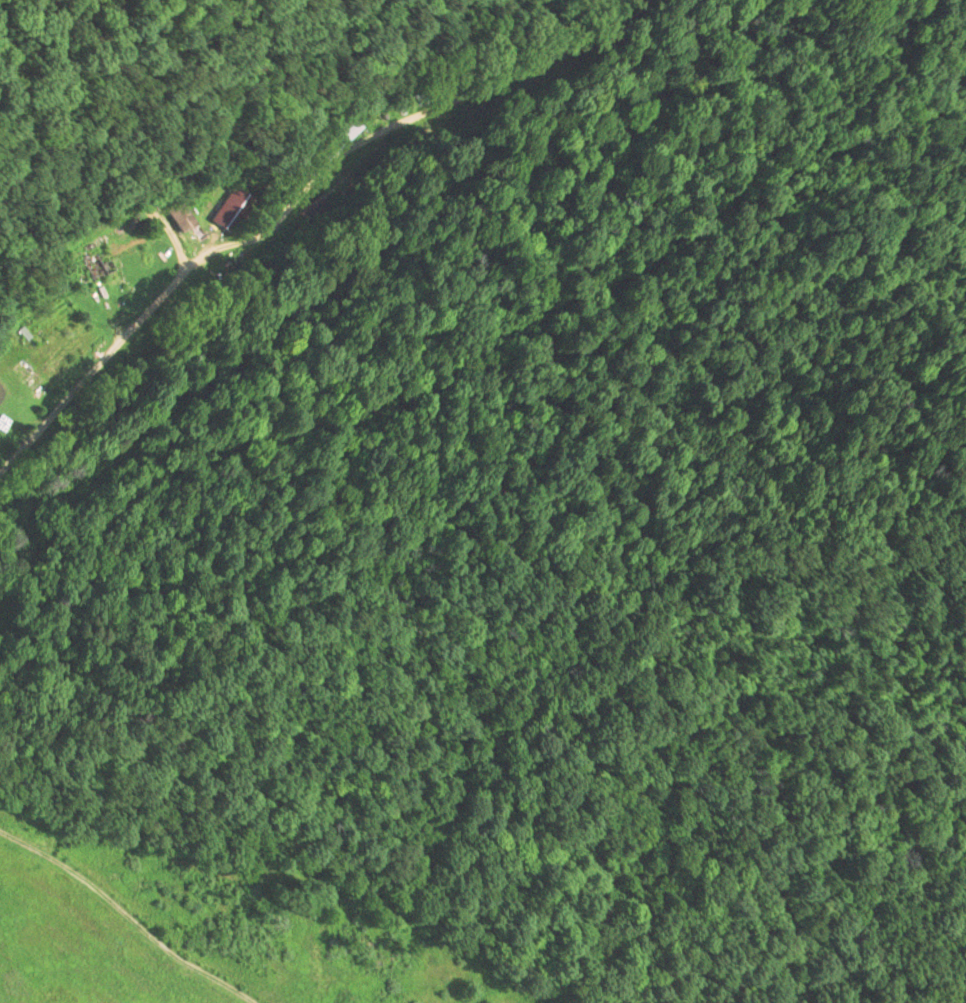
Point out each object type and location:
building: (426, 95)
building: (337, 136)
building: (232, 210)
building: (178, 214)
building: (93, 266)
road: (98, 373)

